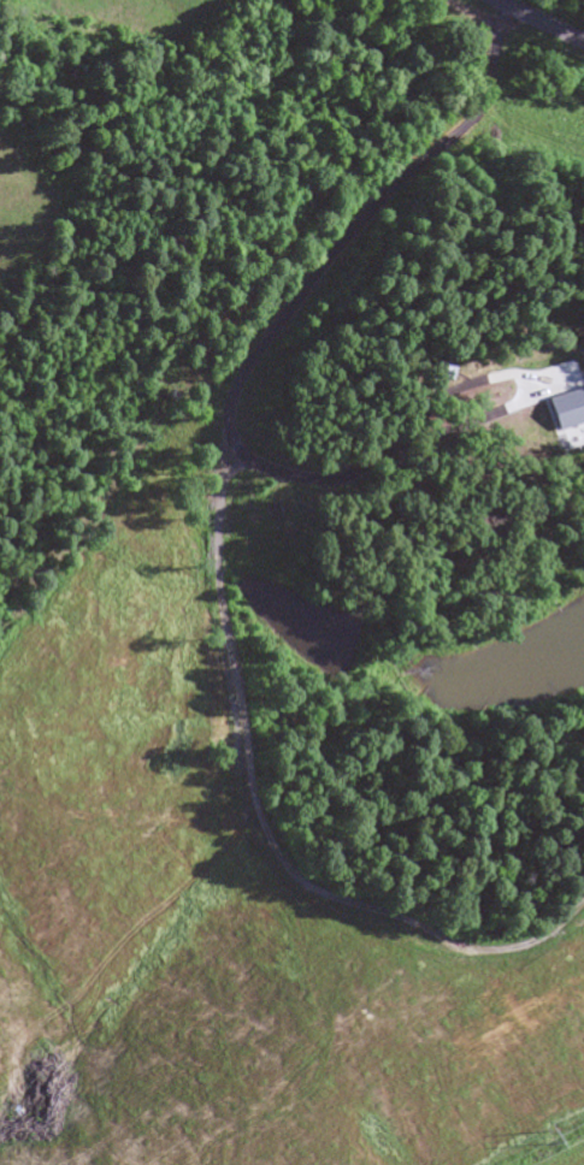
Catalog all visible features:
road: (538, 22)
power tower: (541, 1140)

